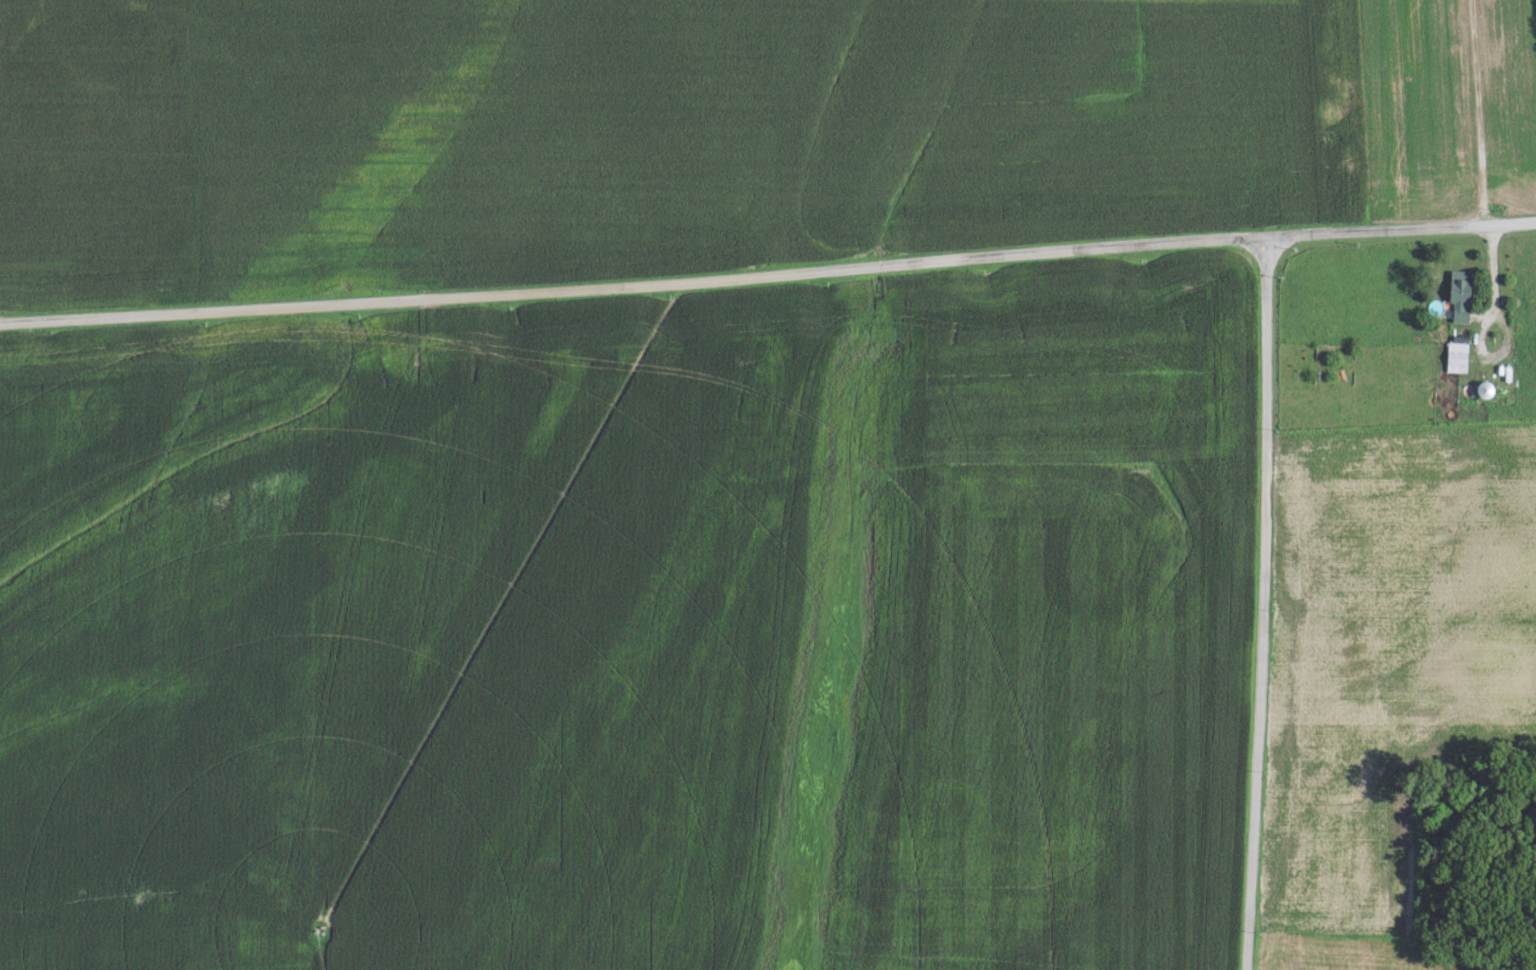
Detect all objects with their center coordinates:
road: (1478, 111)
road: (768, 275)
road: (1485, 320)
road: (1260, 603)

